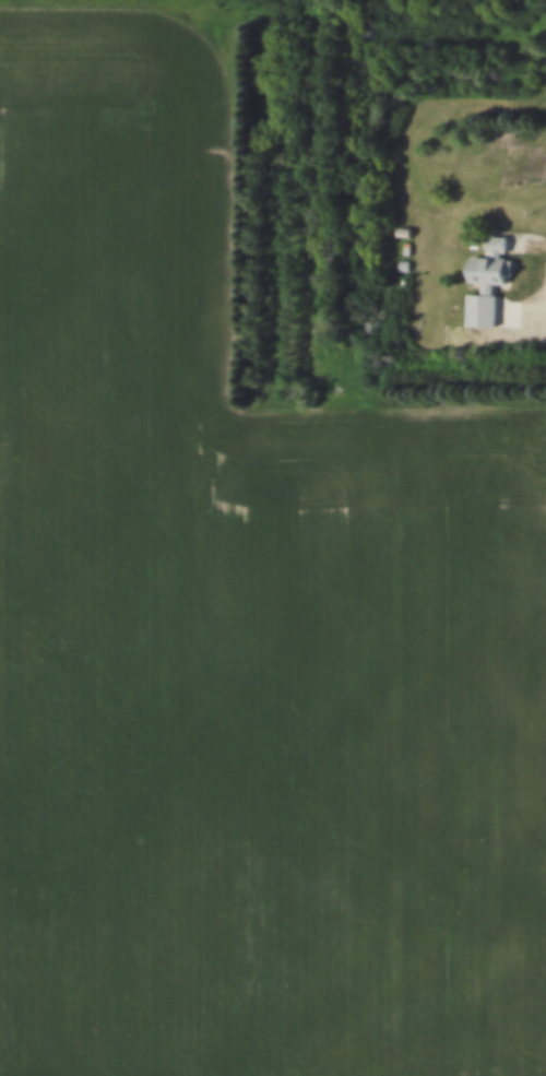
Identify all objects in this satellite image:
building: (397, 225)
building: (401, 240)
building: (397, 258)
building: (482, 275)

